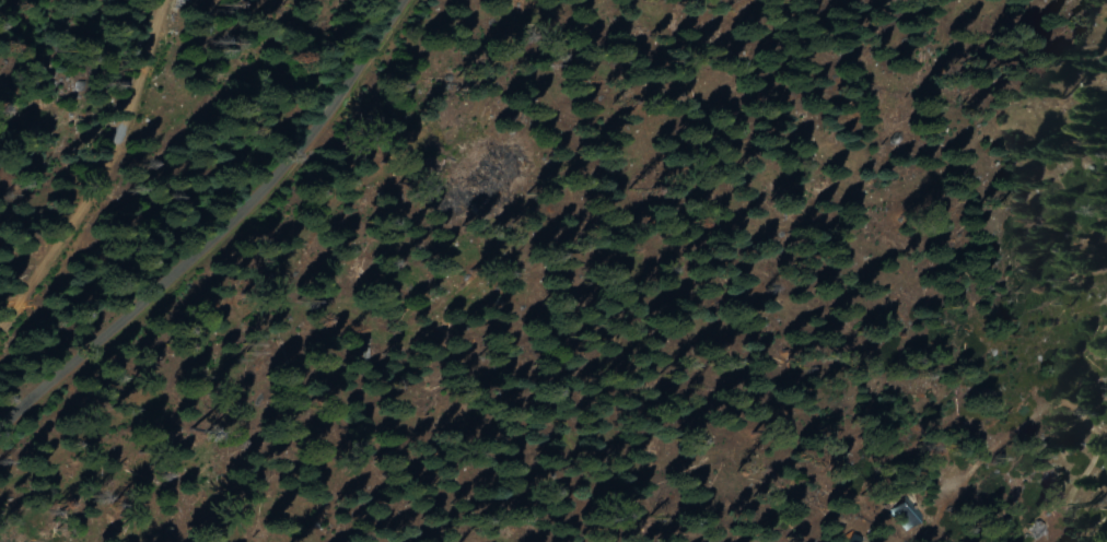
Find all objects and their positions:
road: (224, 222)

